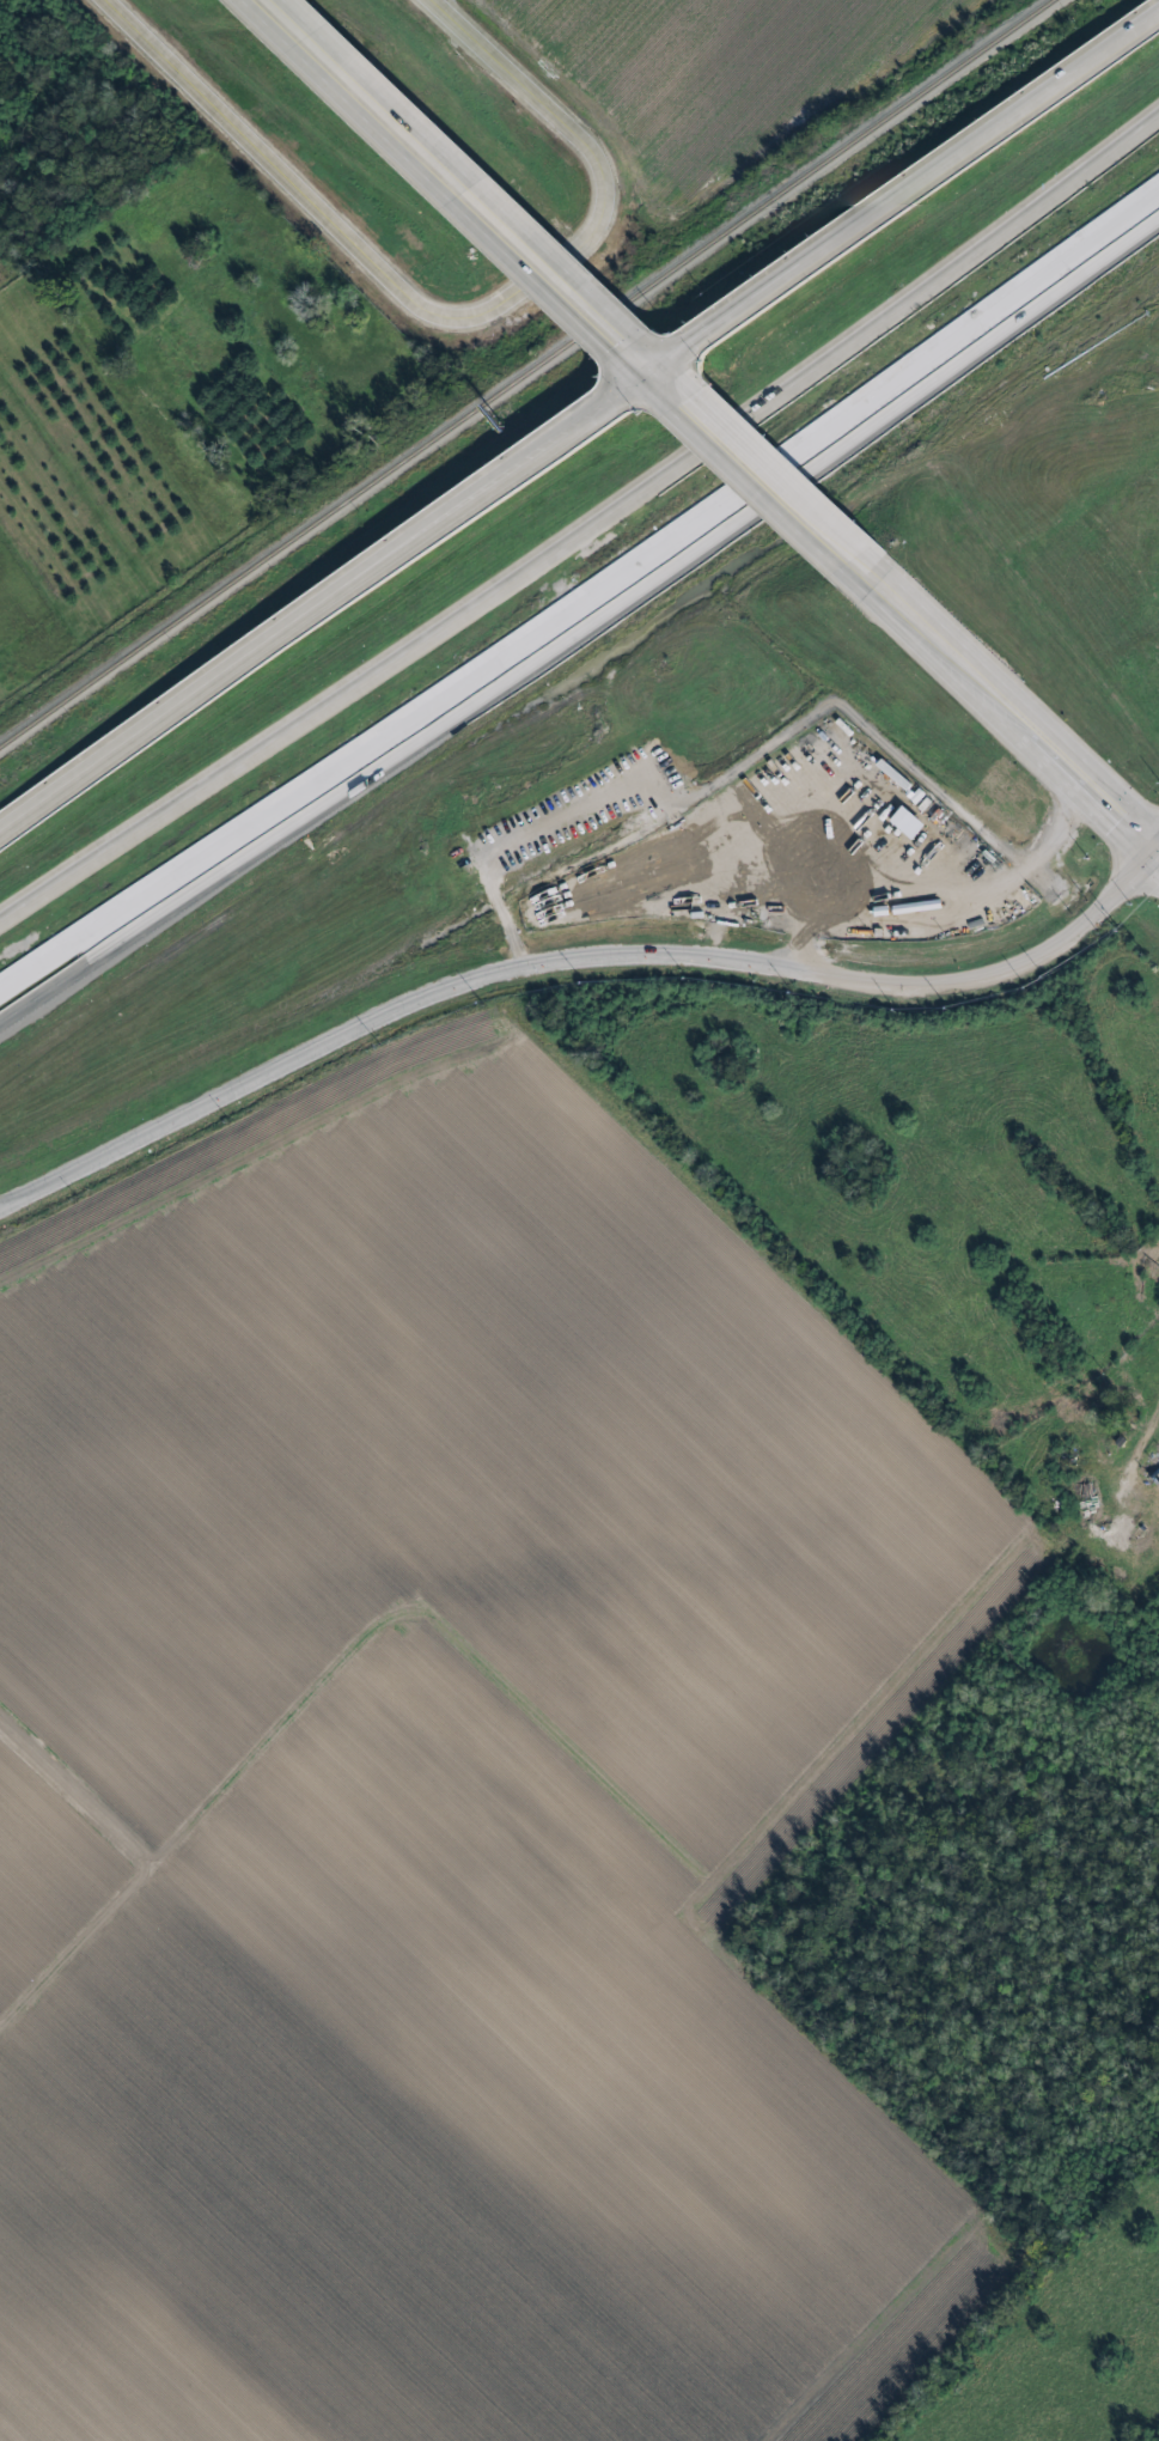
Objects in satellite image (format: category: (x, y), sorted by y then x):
road: (432, 178)
road: (901, 196)
road: (452, 321)
railway: (526, 373)
road: (646, 382)
road: (757, 488)
road: (579, 507)
road: (582, 599)
road: (321, 604)
road: (999, 712)
building: (895, 775)
road: (1158, 857)
road: (937, 889)
road: (574, 964)
road: (91, 1151)
road: (0, 1212)
road: (1146, 1429)

